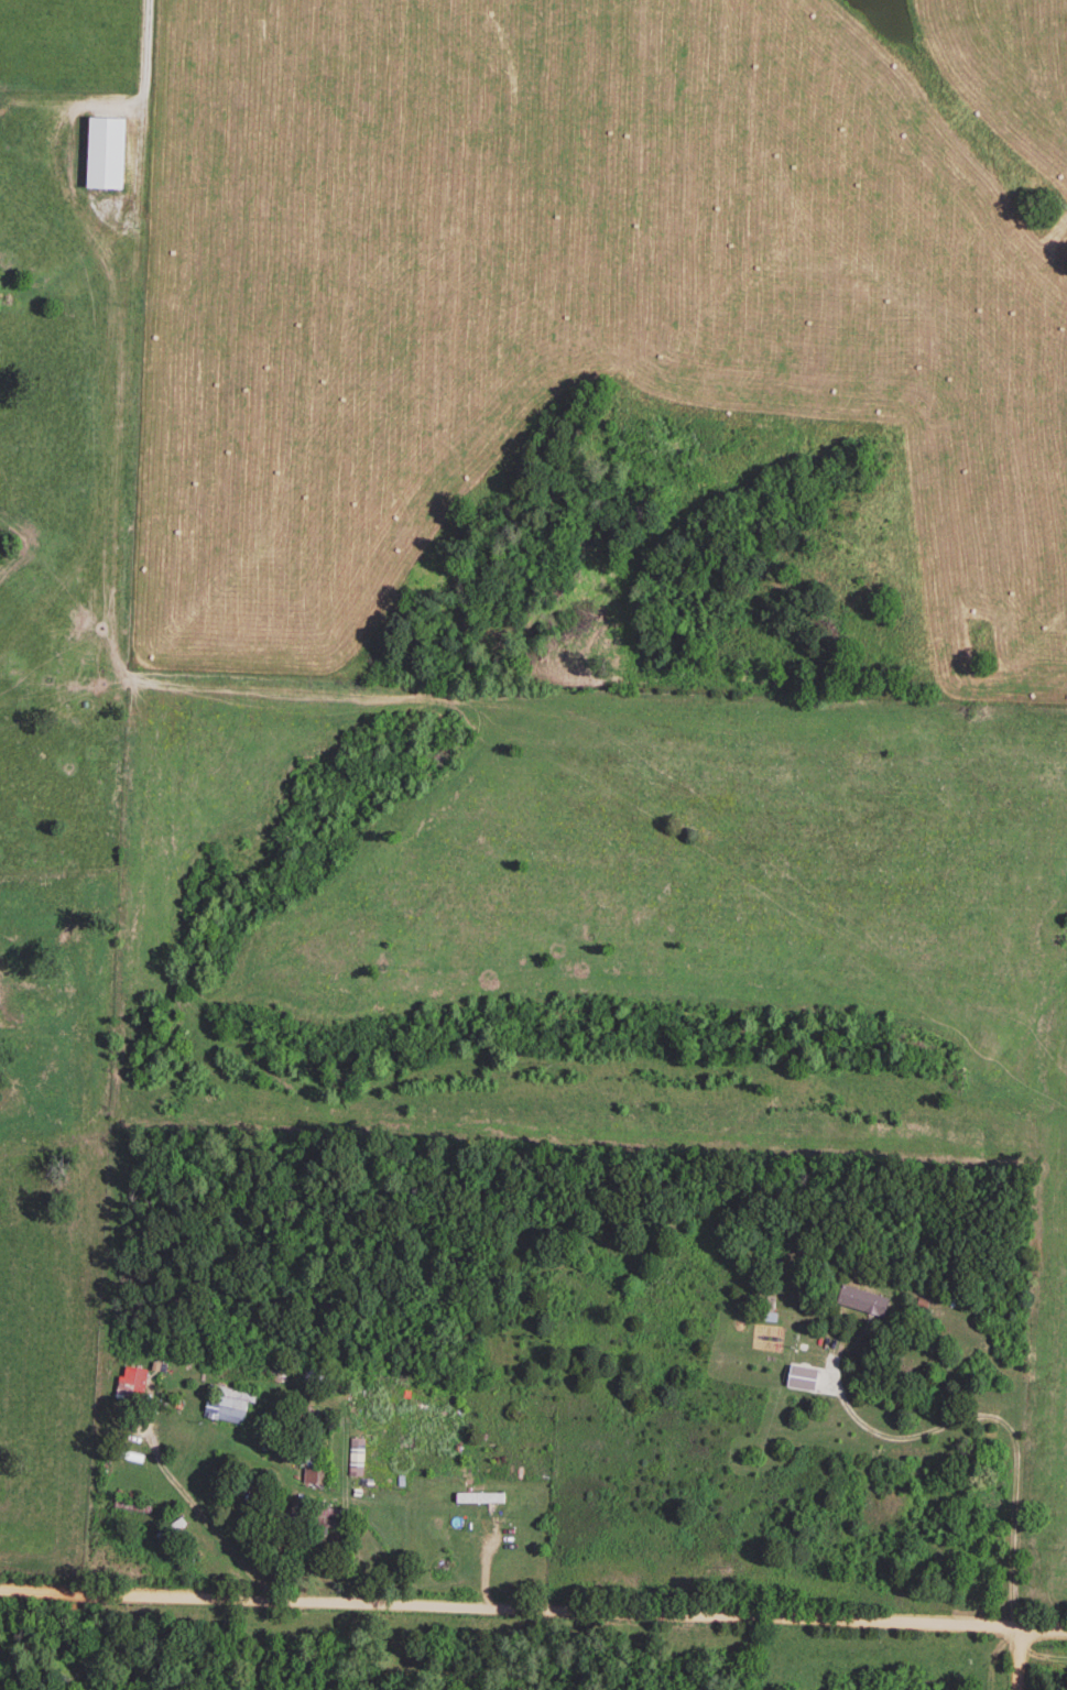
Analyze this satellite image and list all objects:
road: (144, 47)
building: (859, 1304)
building: (226, 1408)
road: (1002, 1408)
building: (410, 1446)
road: (216, 1515)
road: (533, 1615)
road: (1026, 1660)

